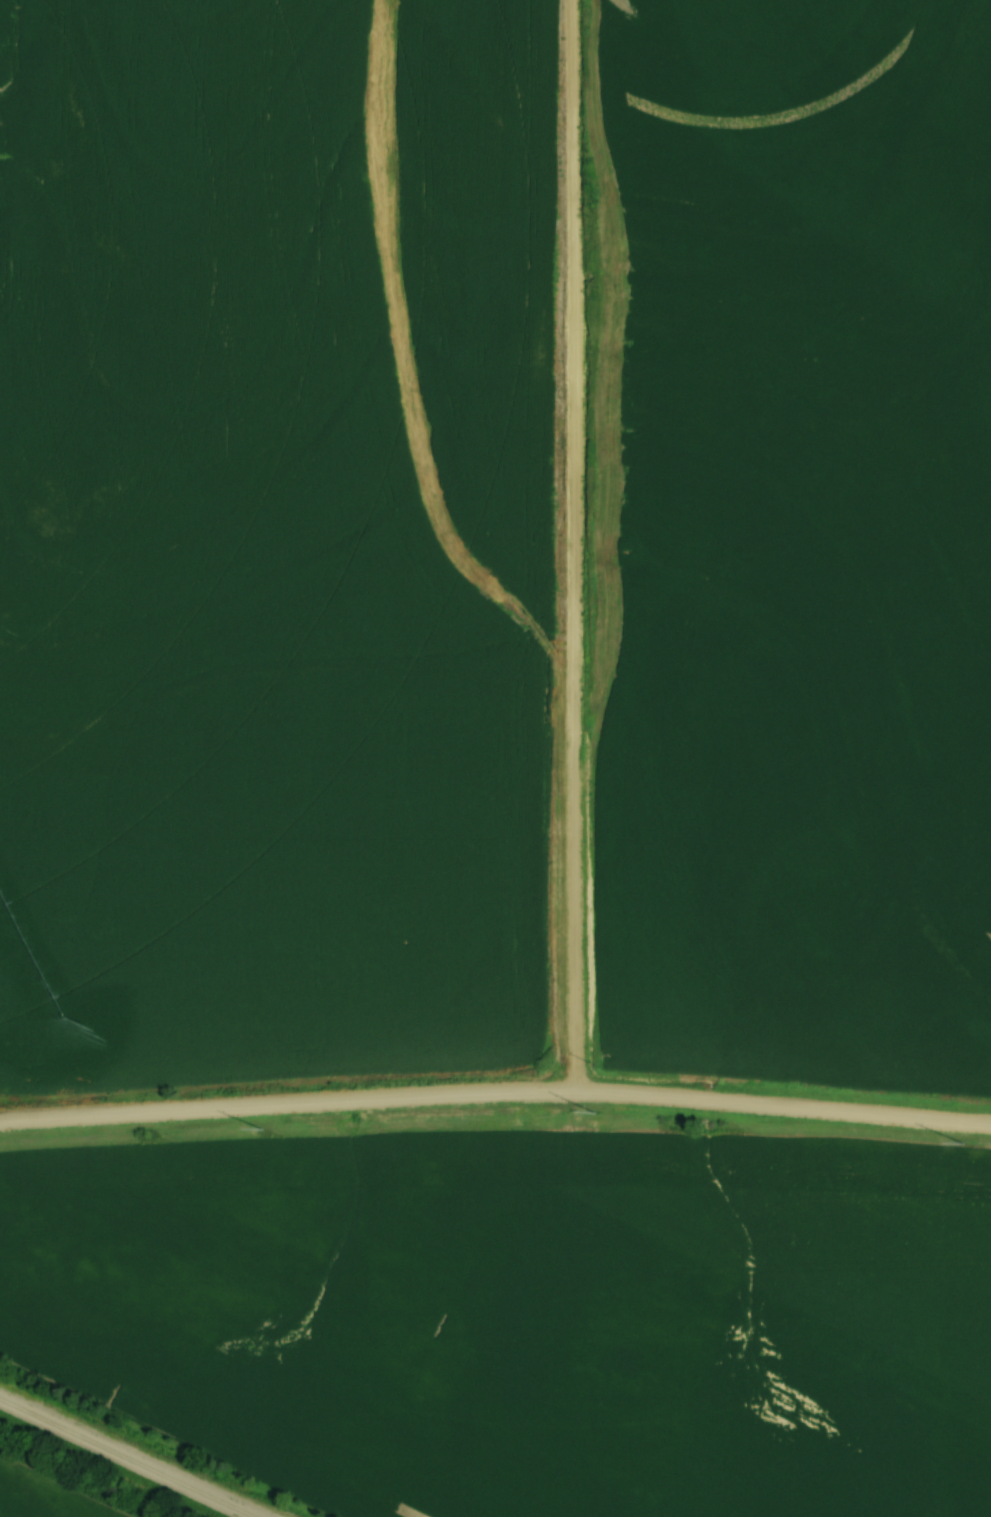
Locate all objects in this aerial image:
road: (575, 546)
road: (495, 1093)
railway: (129, 1456)

